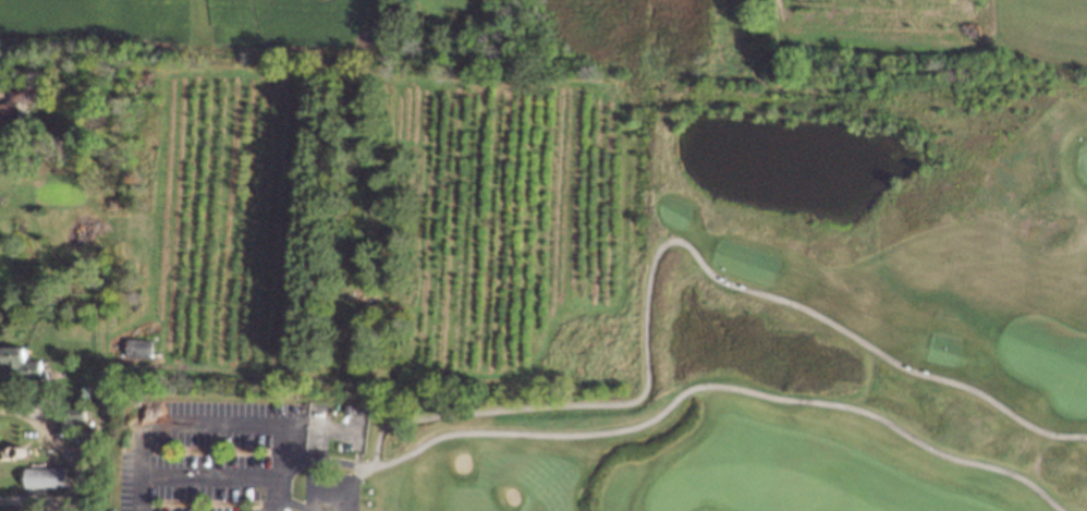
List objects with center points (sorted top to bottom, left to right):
crop: (200, 17)
crop: (945, 23)
building: (14, 108)
crop: (517, 216)
crop: (231, 220)
road: (672, 236)
park: (712, 334)
building: (139, 348)
building: (21, 365)
road: (721, 386)
road: (303, 419)
road: (209, 422)
parking lot: (196, 453)
road: (329, 458)
road: (76, 465)
road: (207, 475)
building: (45, 478)
road: (259, 494)
road: (284, 510)

